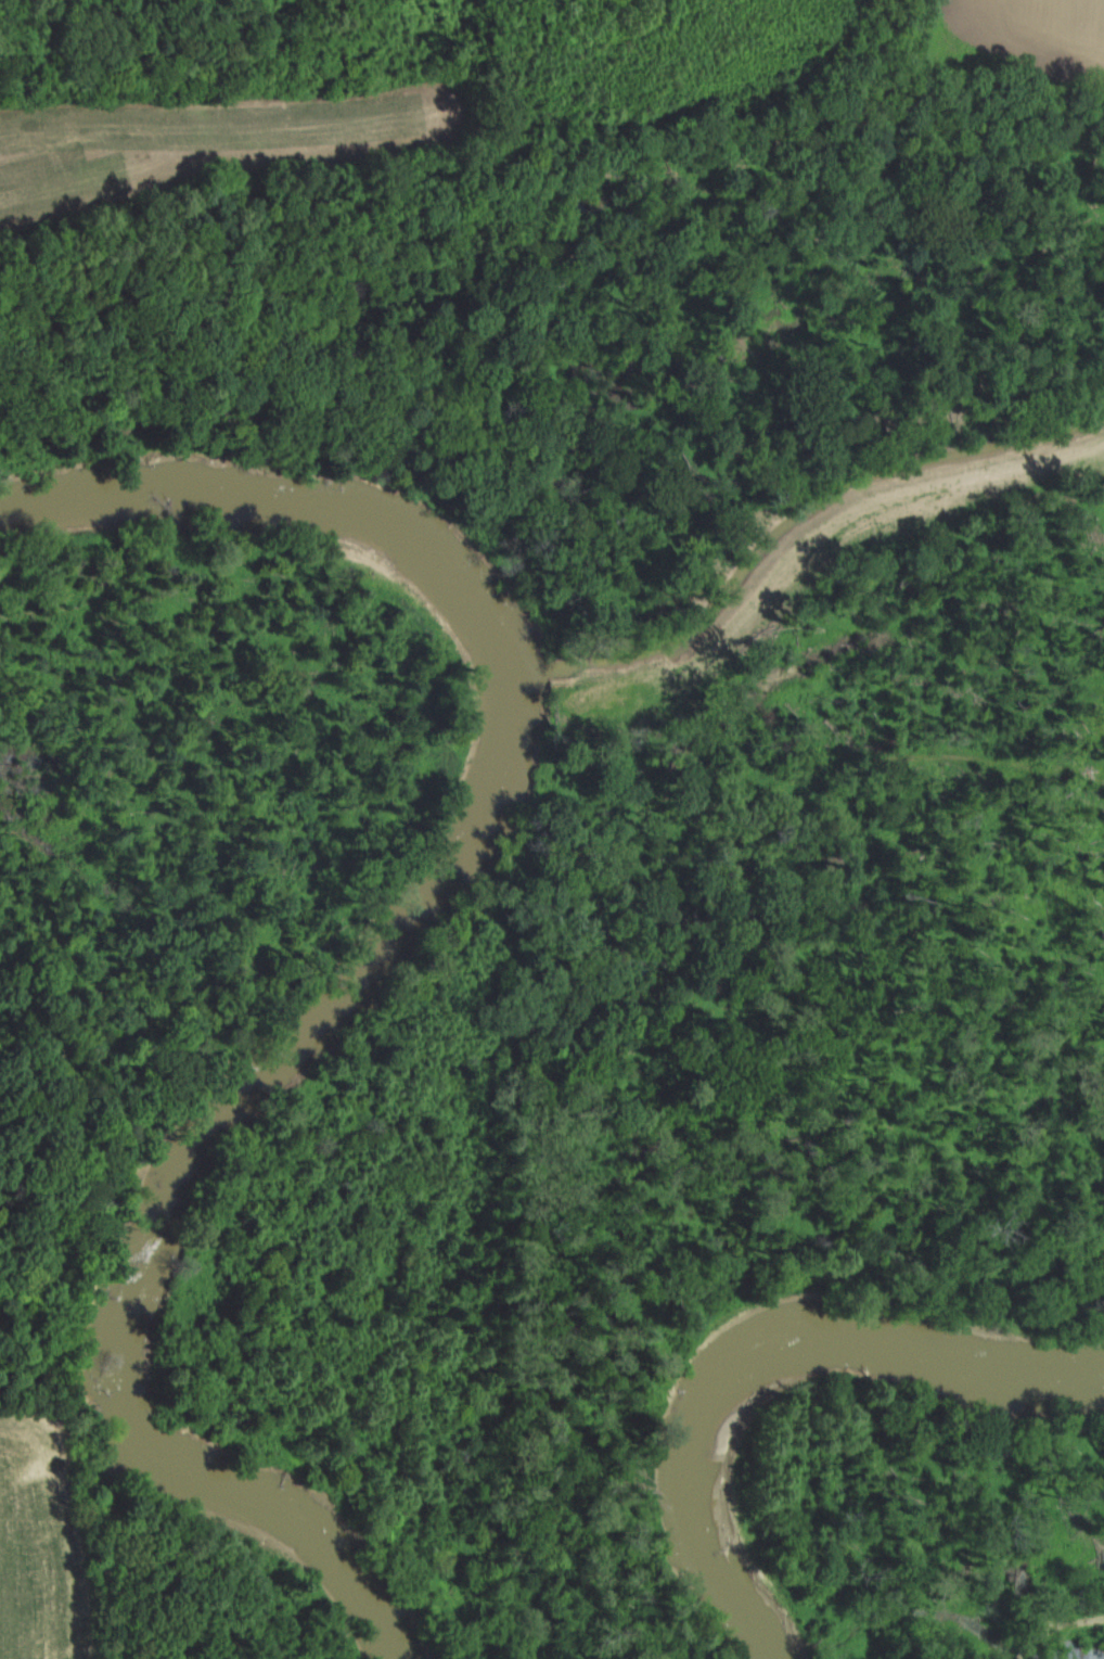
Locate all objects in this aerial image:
river: (415, 943)
river: (768, 1332)

